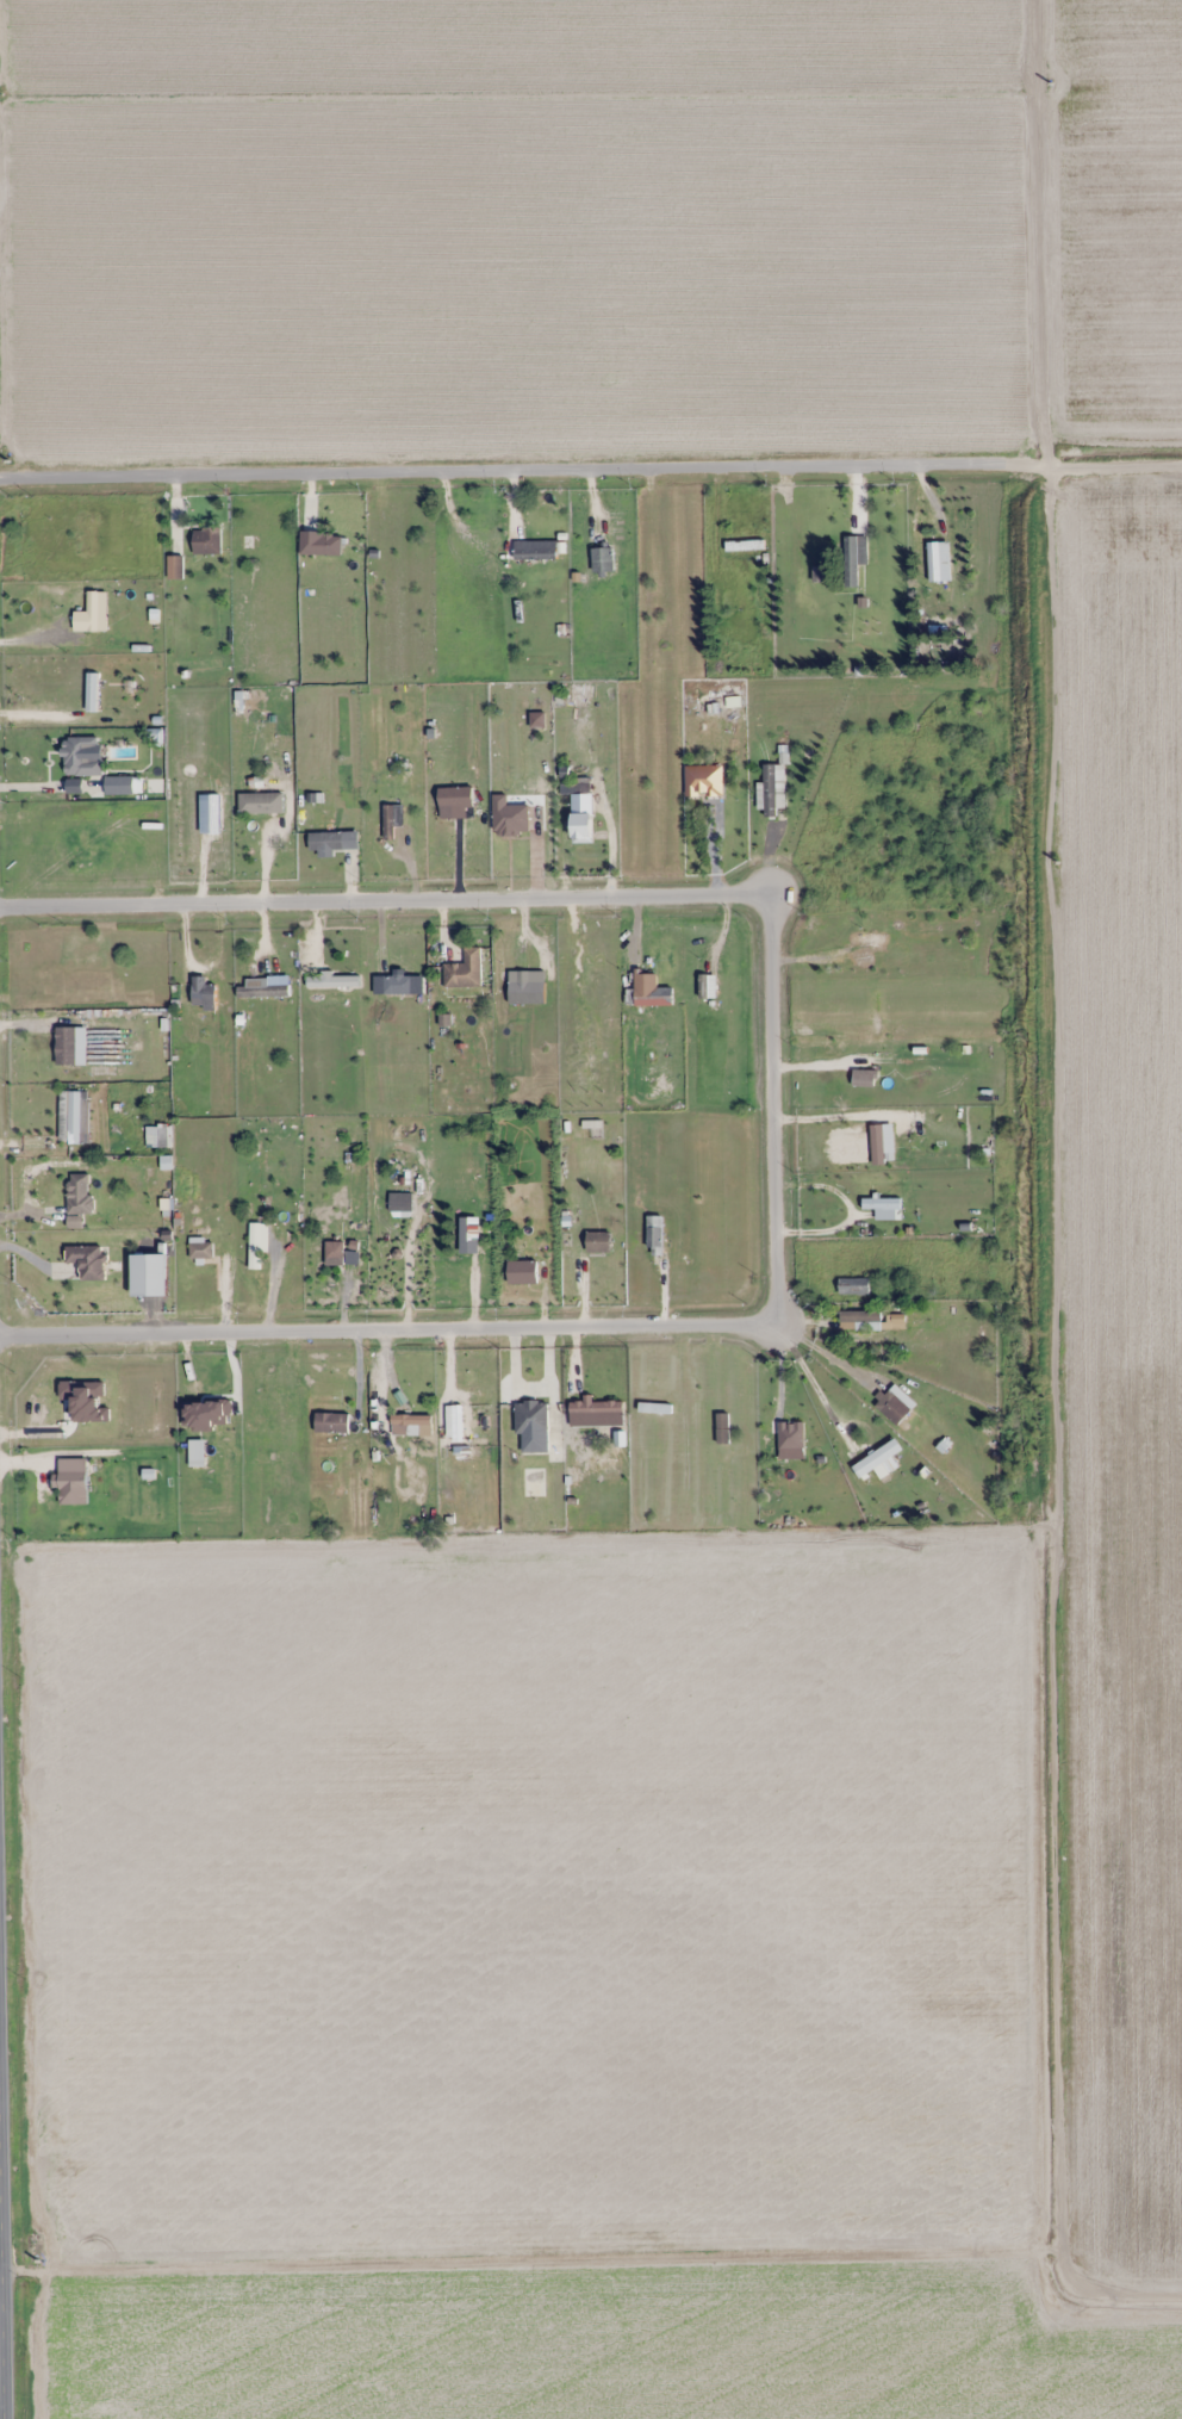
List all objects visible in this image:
road: (1045, 232)
road: (590, 470)
building: (206, 540)
building: (321, 542)
building: (745, 544)
building: (535, 550)
building: (853, 558)
building: (602, 559)
building: (174, 566)
building: (95, 607)
building: (92, 691)
building: (80, 756)
building: (129, 784)
building: (574, 790)
building: (774, 790)
building: (455, 802)
building: (723, 812)
building: (392, 819)
building: (581, 824)
building: (325, 841)
building: (465, 969)
building: (331, 980)
building: (261, 990)
building: (653, 995)
building: (203, 997)
building: (397, 998)
building: (331, 1010)
building: (876, 1010)
building: (66, 1046)
building: (864, 1078)
road: (773, 1114)
building: (71, 1121)
building: (881, 1143)
building: (79, 1193)
building: (399, 1202)
building: (882, 1203)
building: (466, 1235)
building: (654, 1236)
building: (598, 1241)
building: (200, 1249)
building: (334, 1252)
building: (87, 1260)
building: (853, 1285)
building: (859, 1320)
building: (596, 1408)
building: (896, 1410)
building: (530, 1416)
building: (331, 1422)
building: (772, 1426)
building: (269, 1428)
road: (1050, 1428)
building: (204, 1446)
building: (877, 1458)
building: (71, 1474)
road: (1, 2275)

